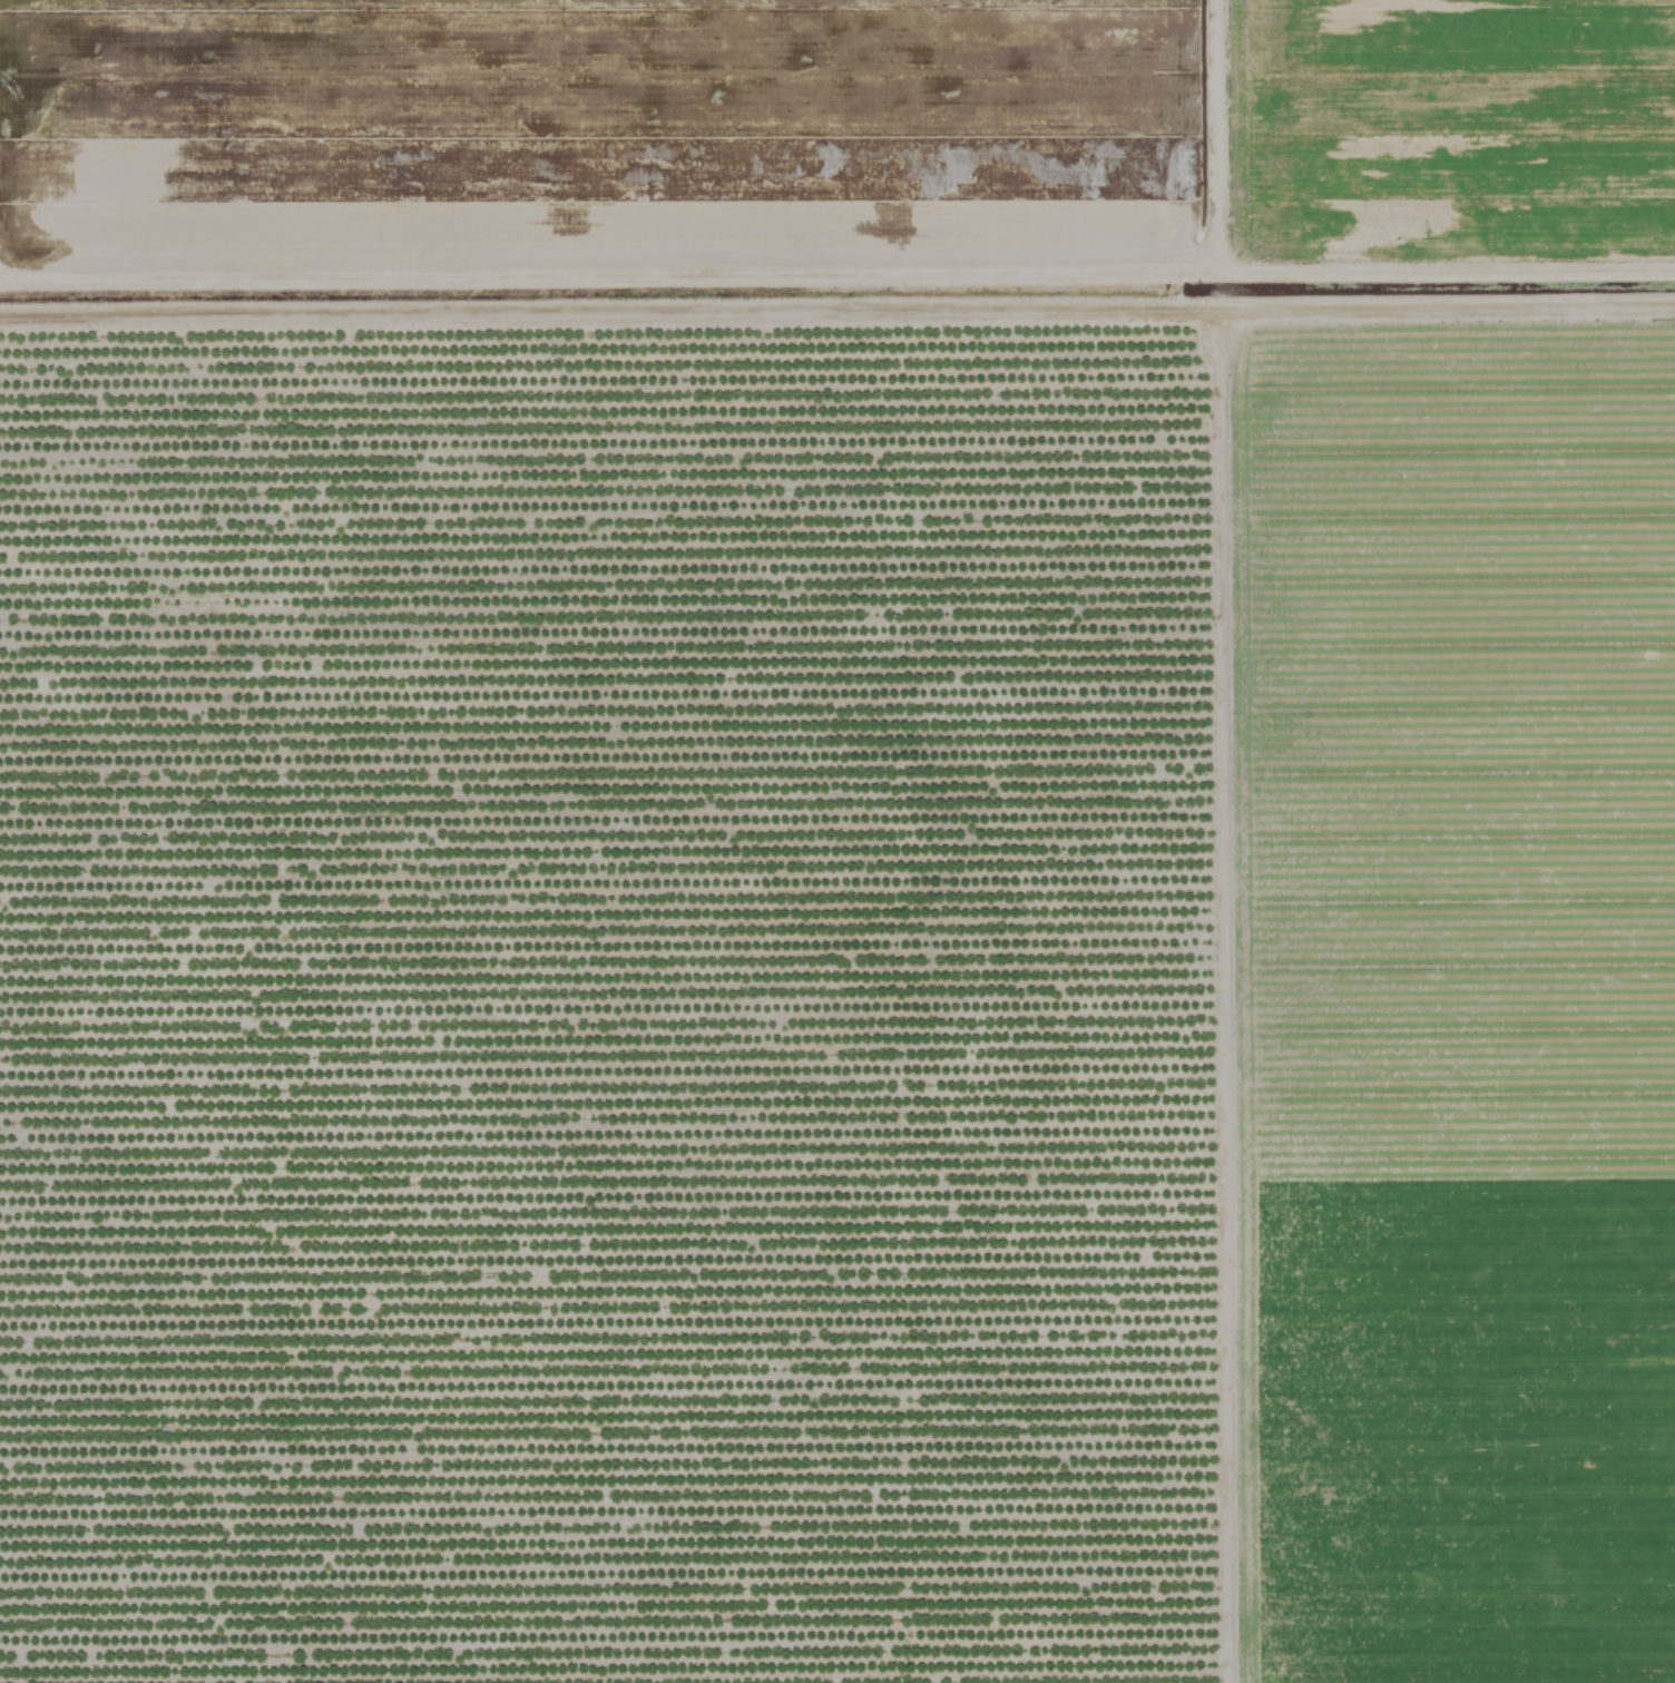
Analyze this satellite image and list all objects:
crop: (837, 841)

